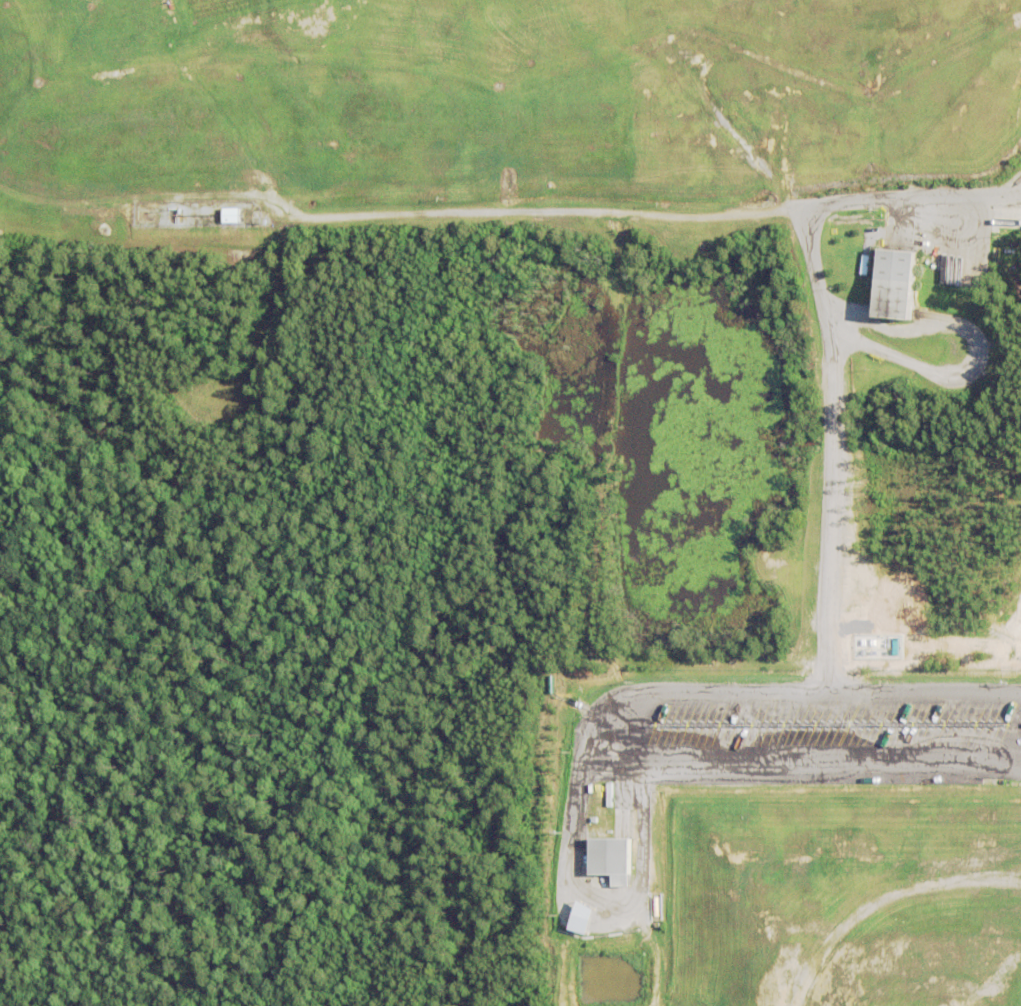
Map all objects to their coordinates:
road: (907, 195)
road: (1015, 198)
road: (524, 211)
building: (231, 217)
building: (929, 279)
building: (895, 289)
road: (830, 447)
road: (608, 726)
road: (1003, 728)
road: (806, 730)
building: (608, 862)
building: (580, 919)

